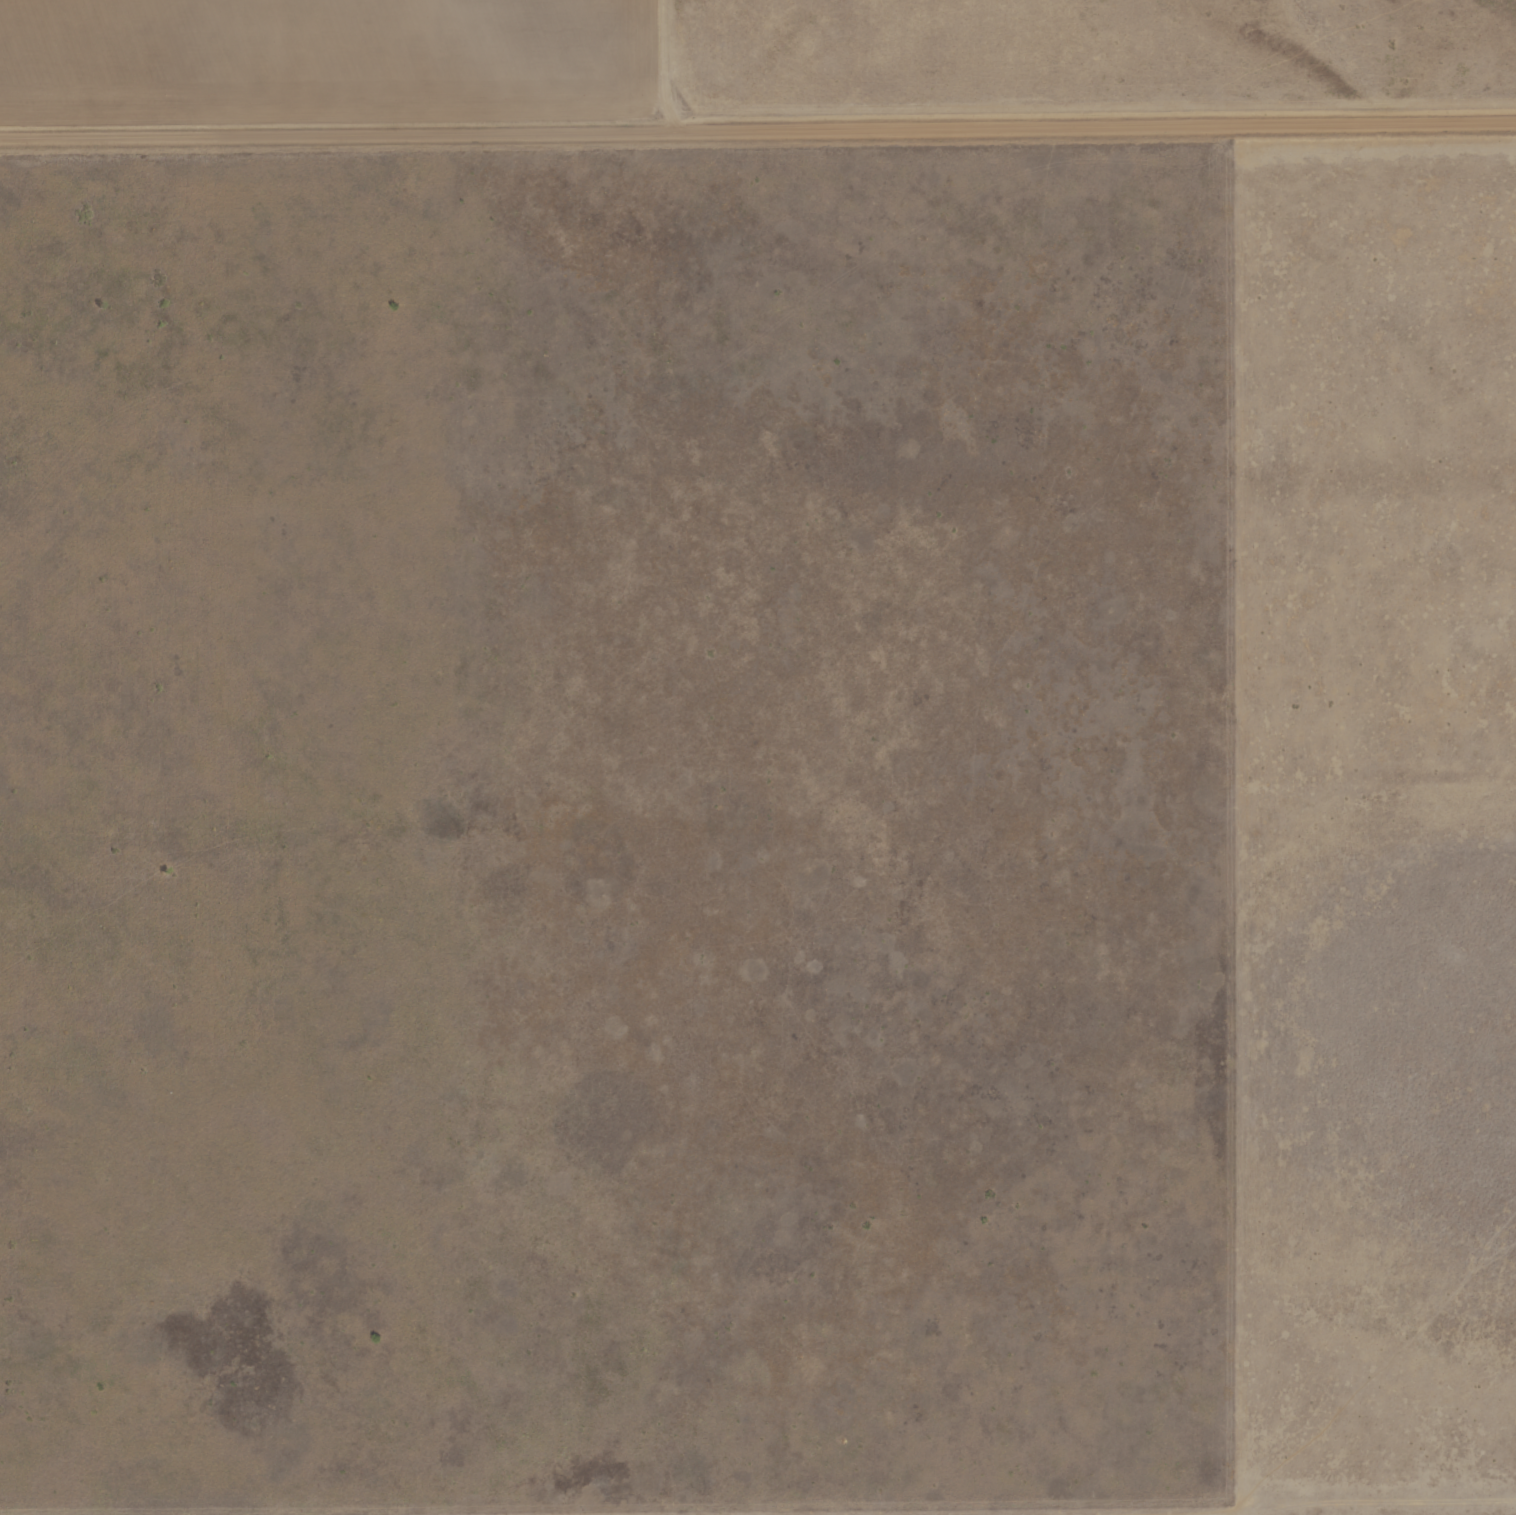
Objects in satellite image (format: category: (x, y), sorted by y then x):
road: (758, 125)

